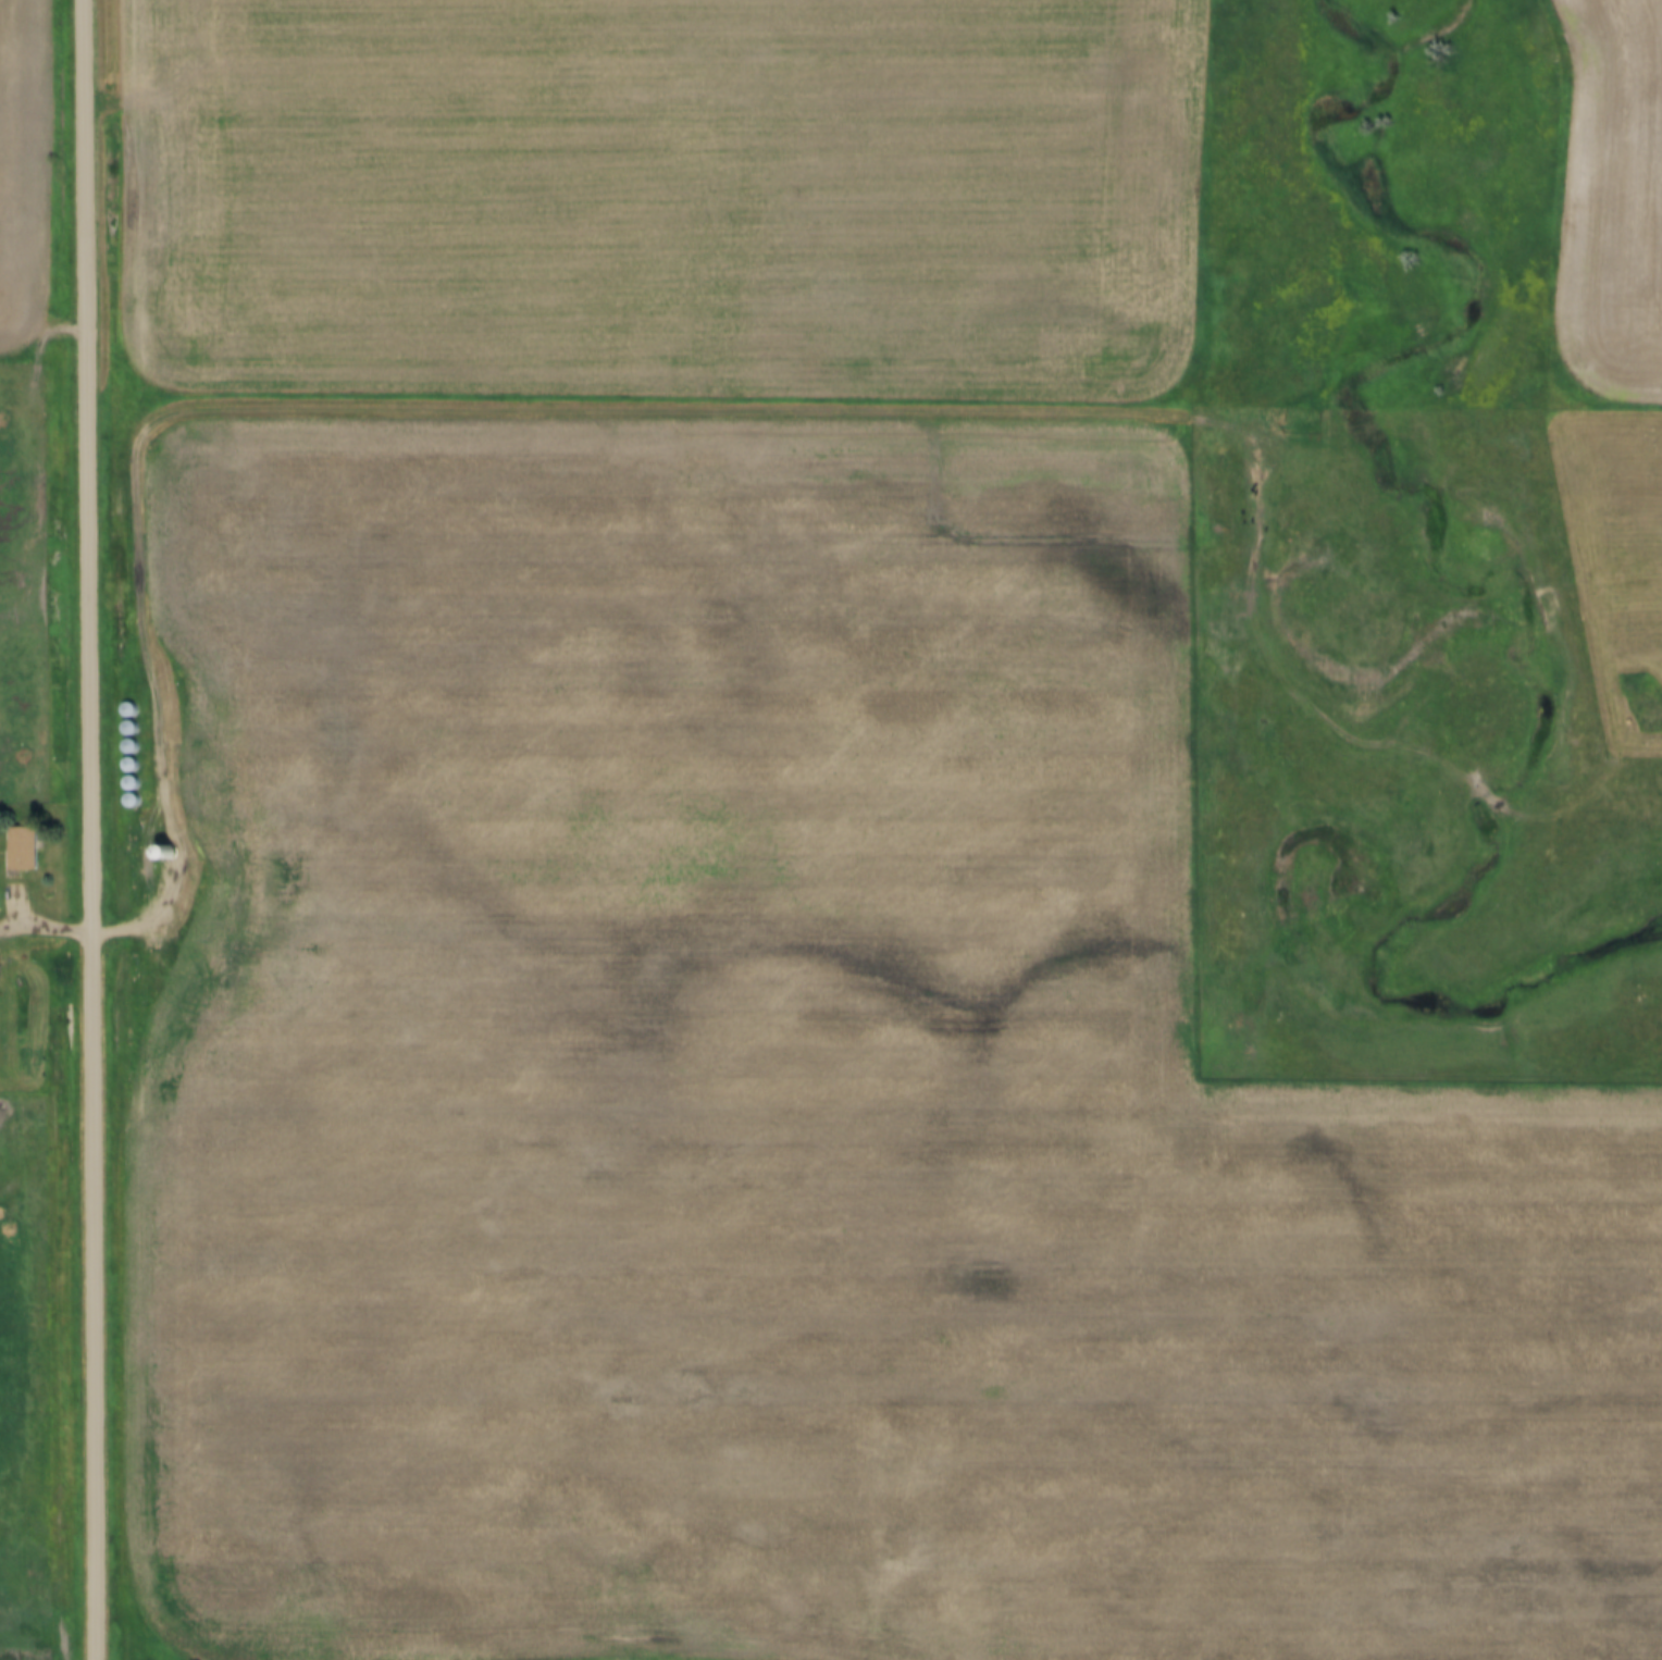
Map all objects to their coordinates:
building: (124, 709)
road: (95, 829)
road: (171, 838)
building: (17, 851)
road: (48, 927)

